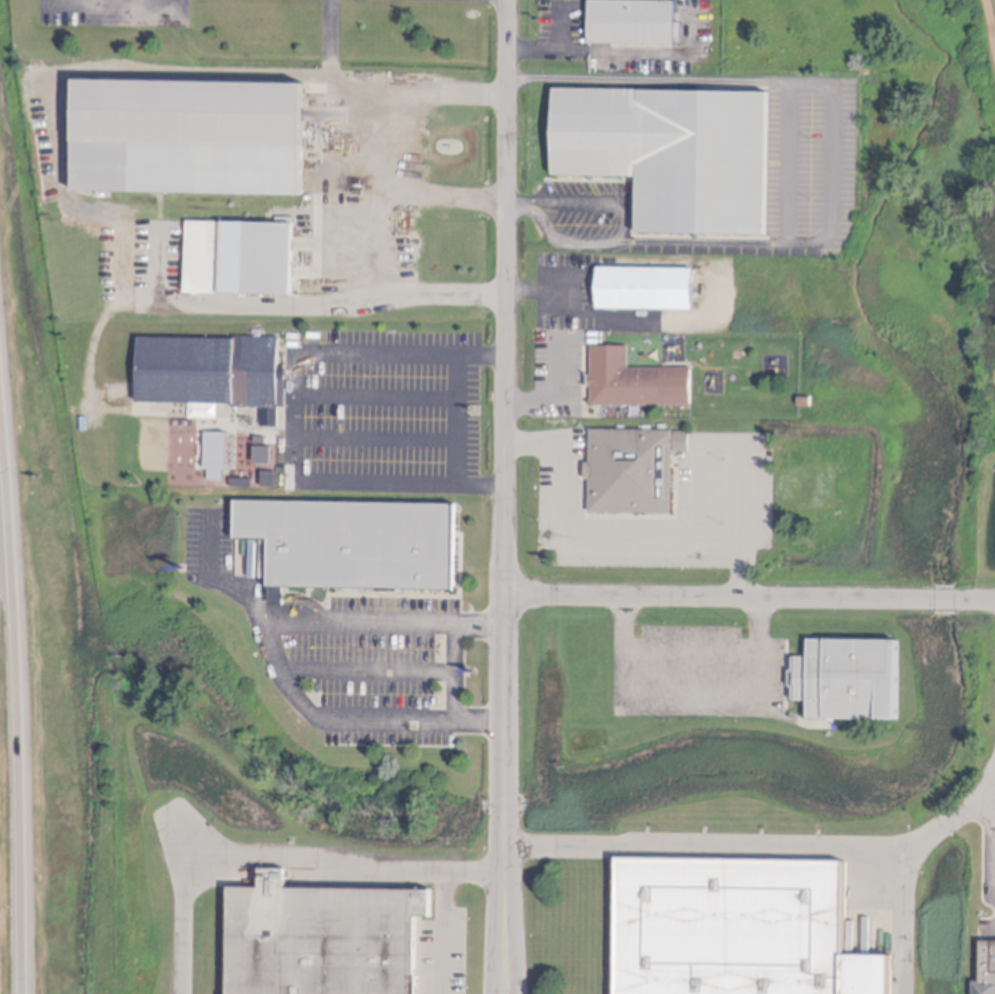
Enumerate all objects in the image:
building: (635, 27)
road: (591, 52)
road: (179, 74)
road: (831, 106)
road: (385, 136)
building: (192, 140)
building: (674, 156)
road: (622, 228)
road: (377, 239)
building: (241, 265)
building: (757, 265)
road: (541, 293)
building: (647, 293)
road: (506, 298)
road: (298, 308)
building: (215, 378)
building: (637, 384)
road: (554, 395)
road: (378, 398)
building: (806, 403)
road: (299, 418)
road: (457, 419)
road: (378, 438)
road: (724, 449)
building: (217, 455)
building: (635, 475)
road: (605, 540)
building: (356, 551)
road: (218, 580)
road: (749, 600)
road: (505, 610)
road: (360, 623)
road: (480, 624)
road: (691, 651)
road: (369, 672)
road: (456, 672)
road: (504, 673)
road: (23, 686)
building: (850, 688)
road: (332, 720)
road: (479, 721)
road: (993, 817)
road: (953, 820)
road: (775, 850)
road: (503, 857)
road: (277, 858)
building: (739, 929)
road: (444, 934)
building: (324, 939)
building: (987, 970)

